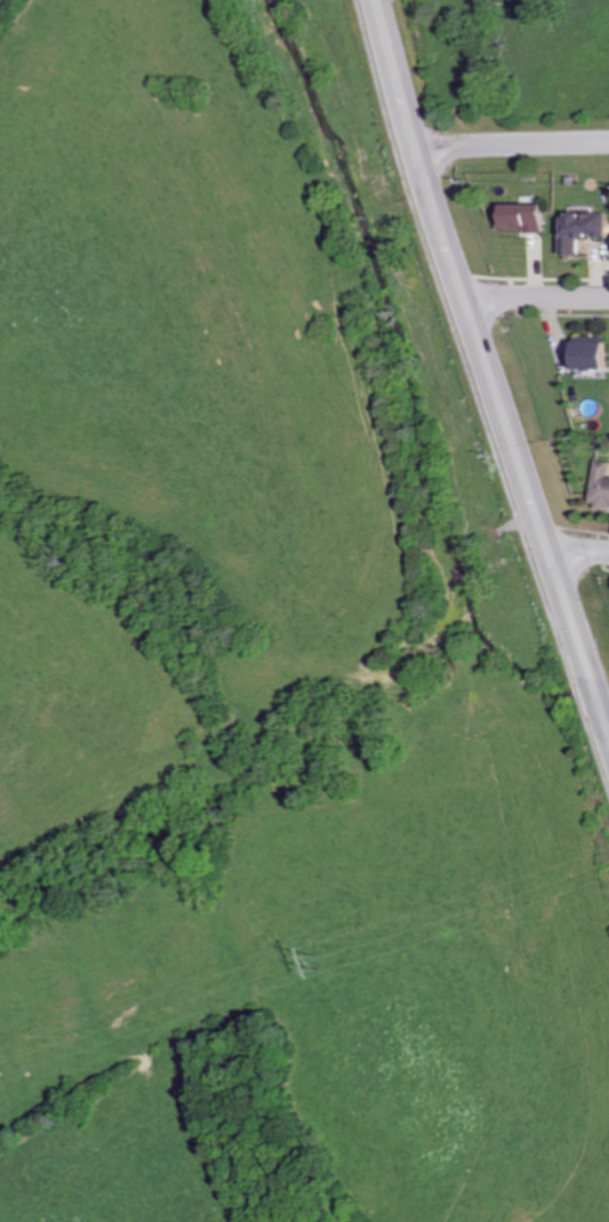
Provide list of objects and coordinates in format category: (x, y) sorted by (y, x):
road: (517, 145)
building: (529, 218)
building: (585, 231)
road: (536, 300)
building: (596, 354)
road: (485, 361)
building: (603, 483)
road: (582, 556)

